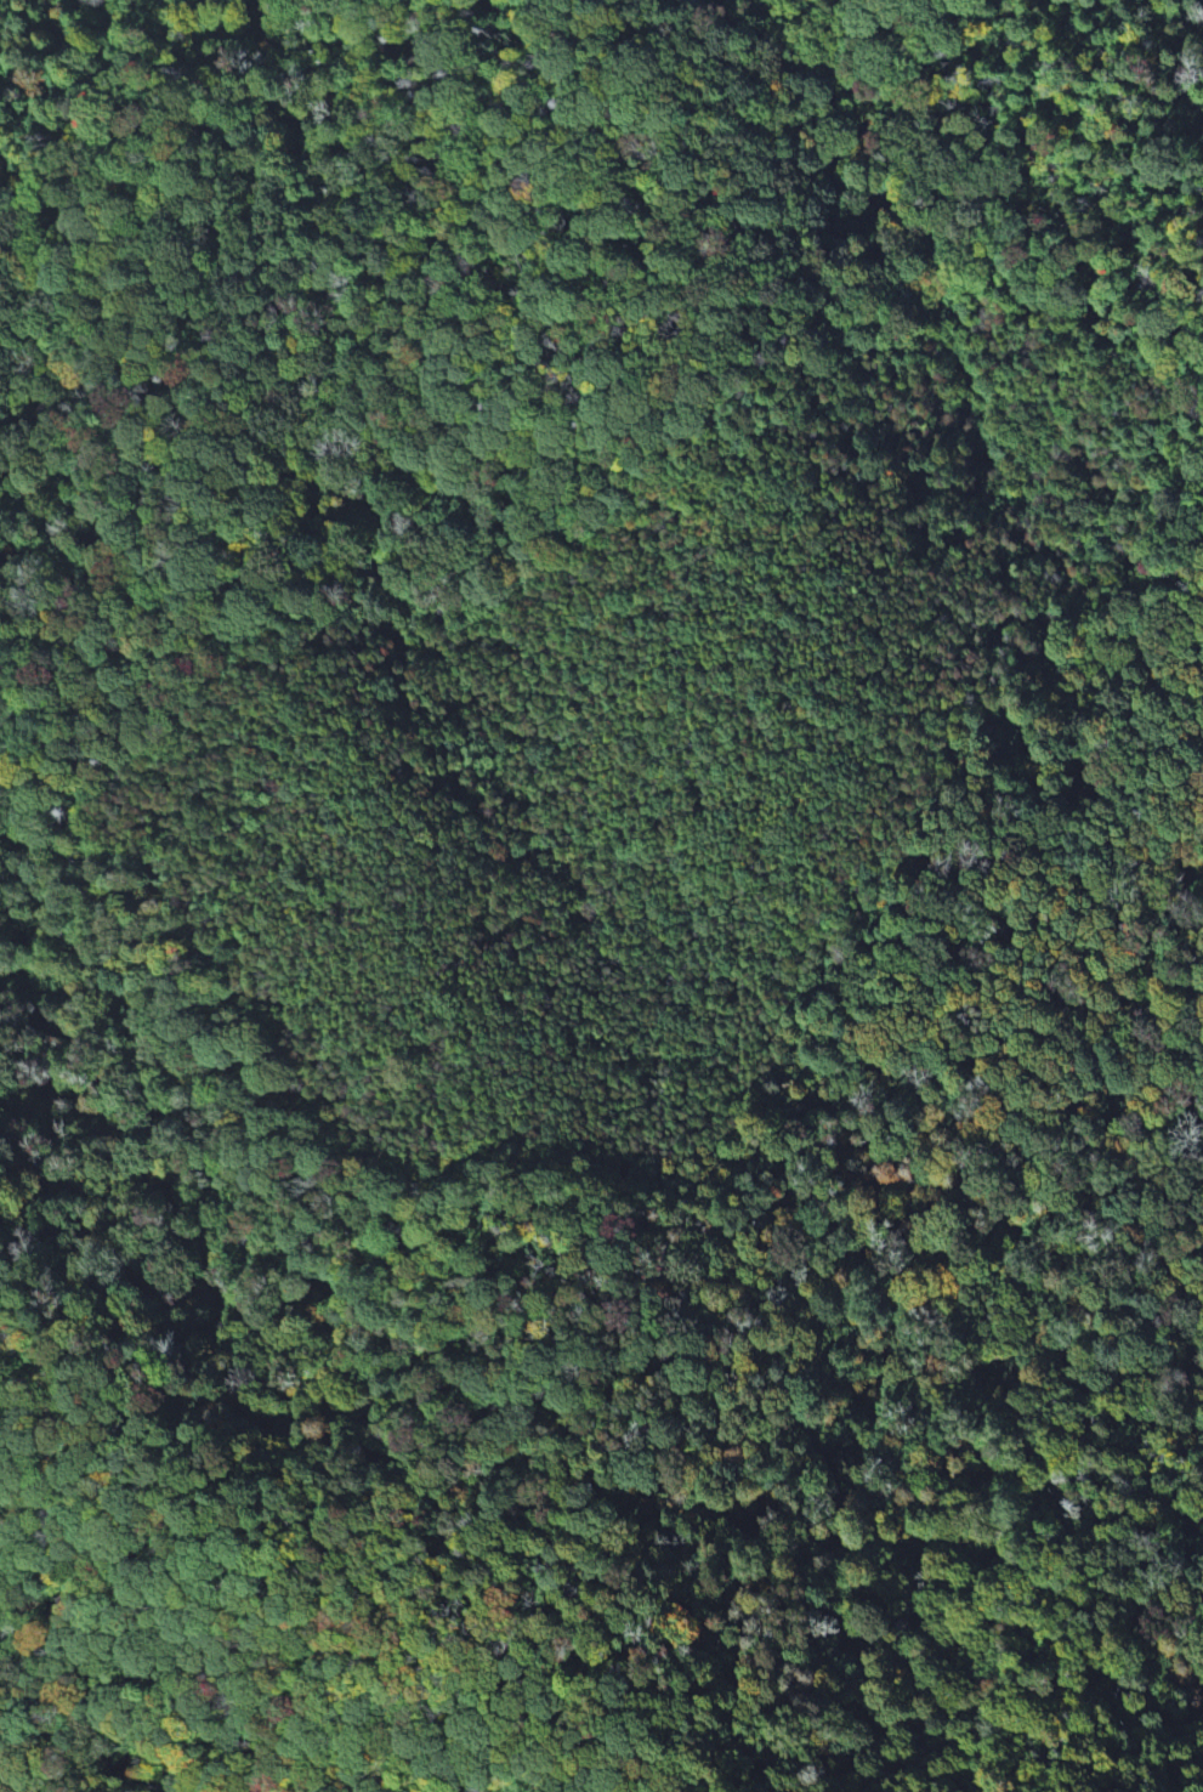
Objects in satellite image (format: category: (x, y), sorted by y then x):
road: (1073, 220)

